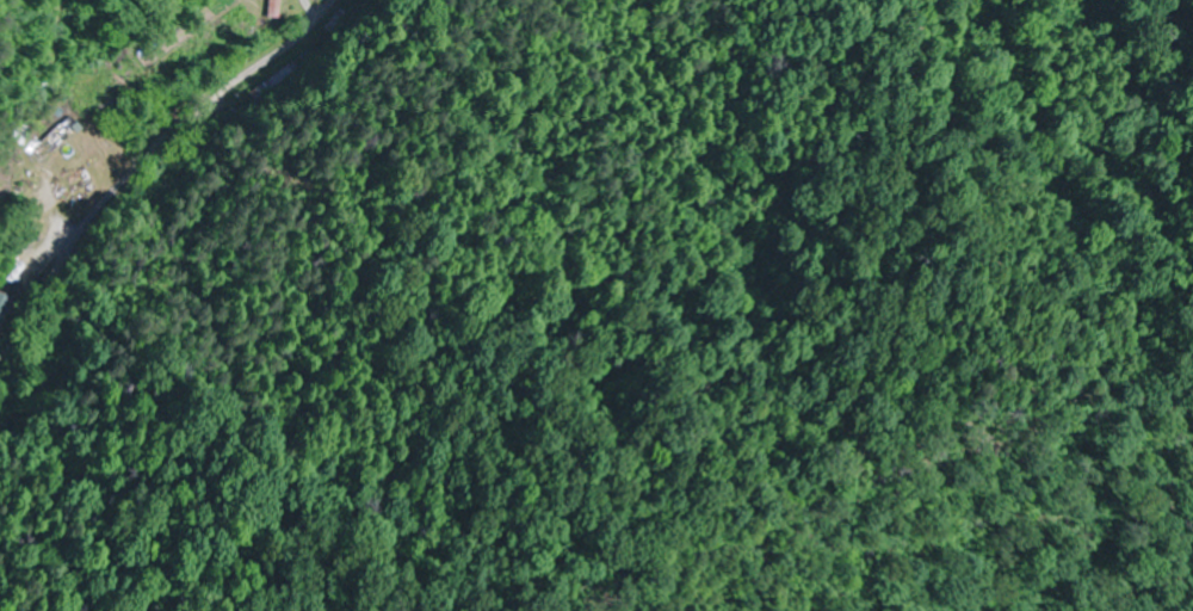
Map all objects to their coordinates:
building: (272, 8)
building: (57, 142)
building: (4, 305)

